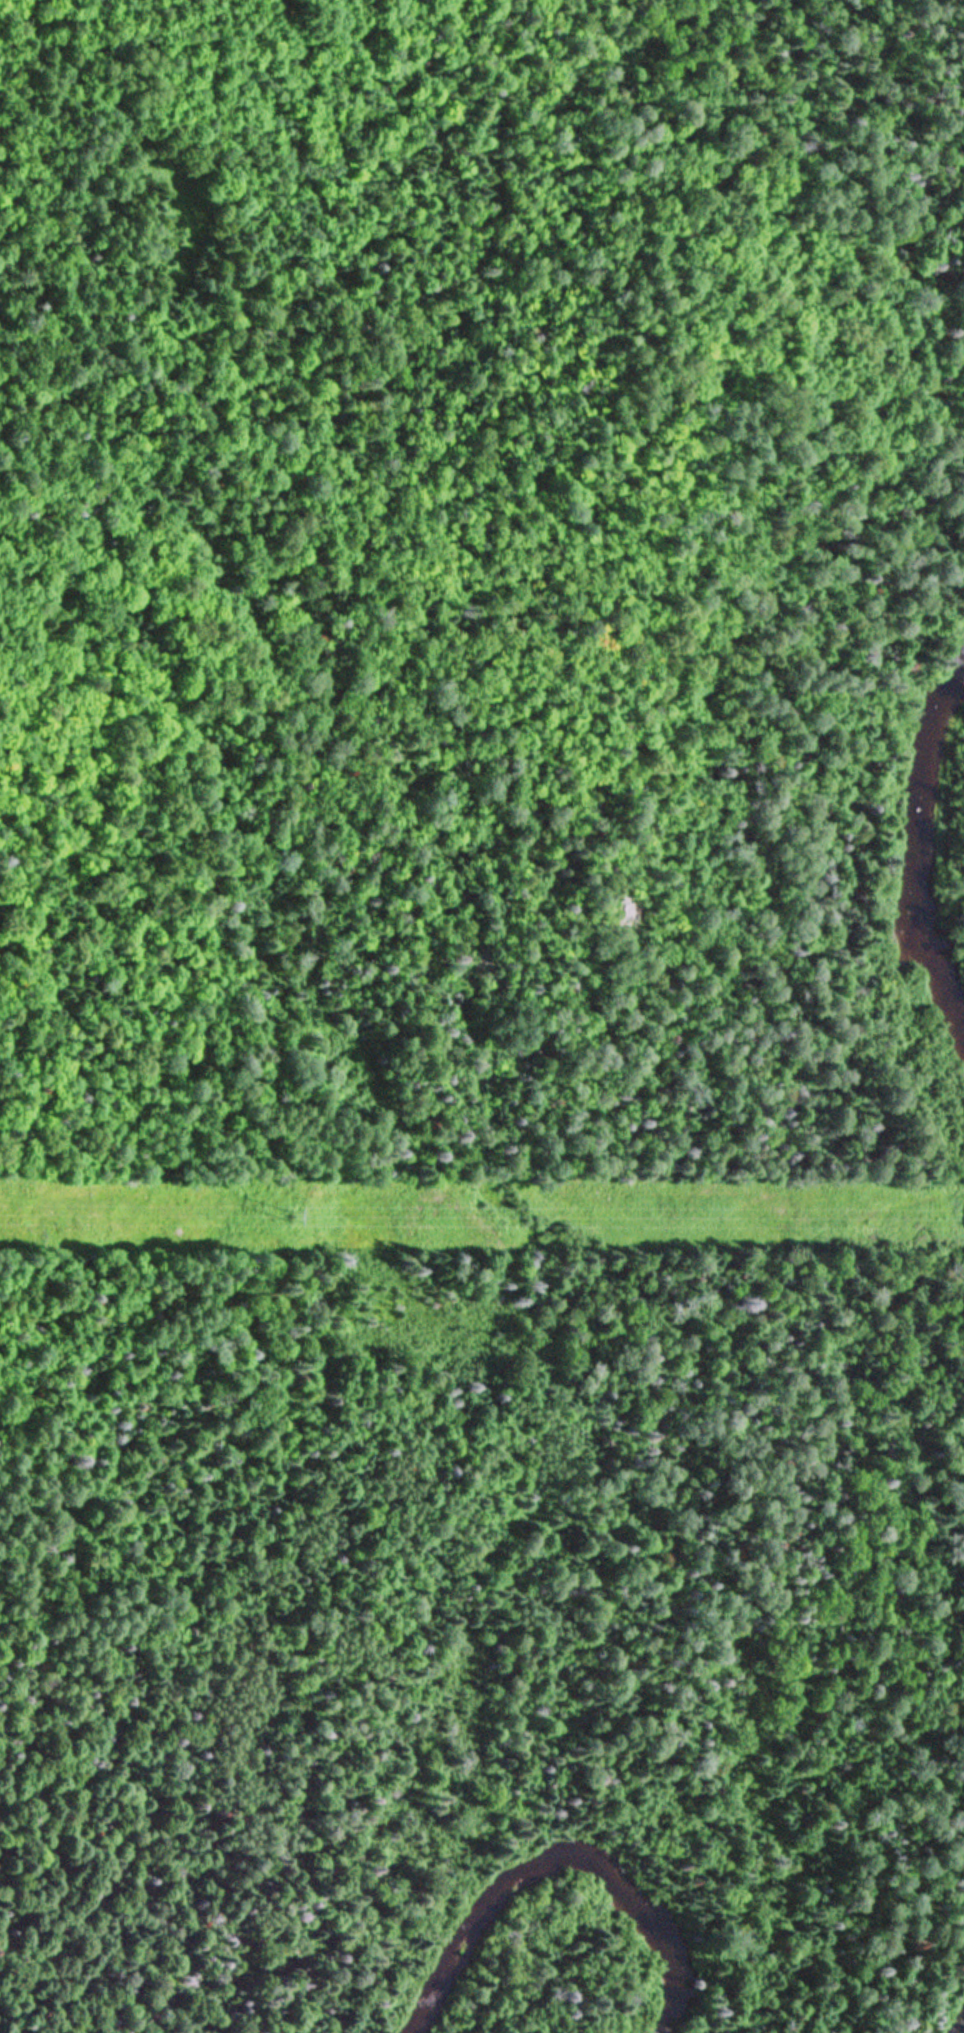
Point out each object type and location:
river: (884, 883)
power tower: (285, 1217)
river: (528, 1883)
river: (959, 2022)

